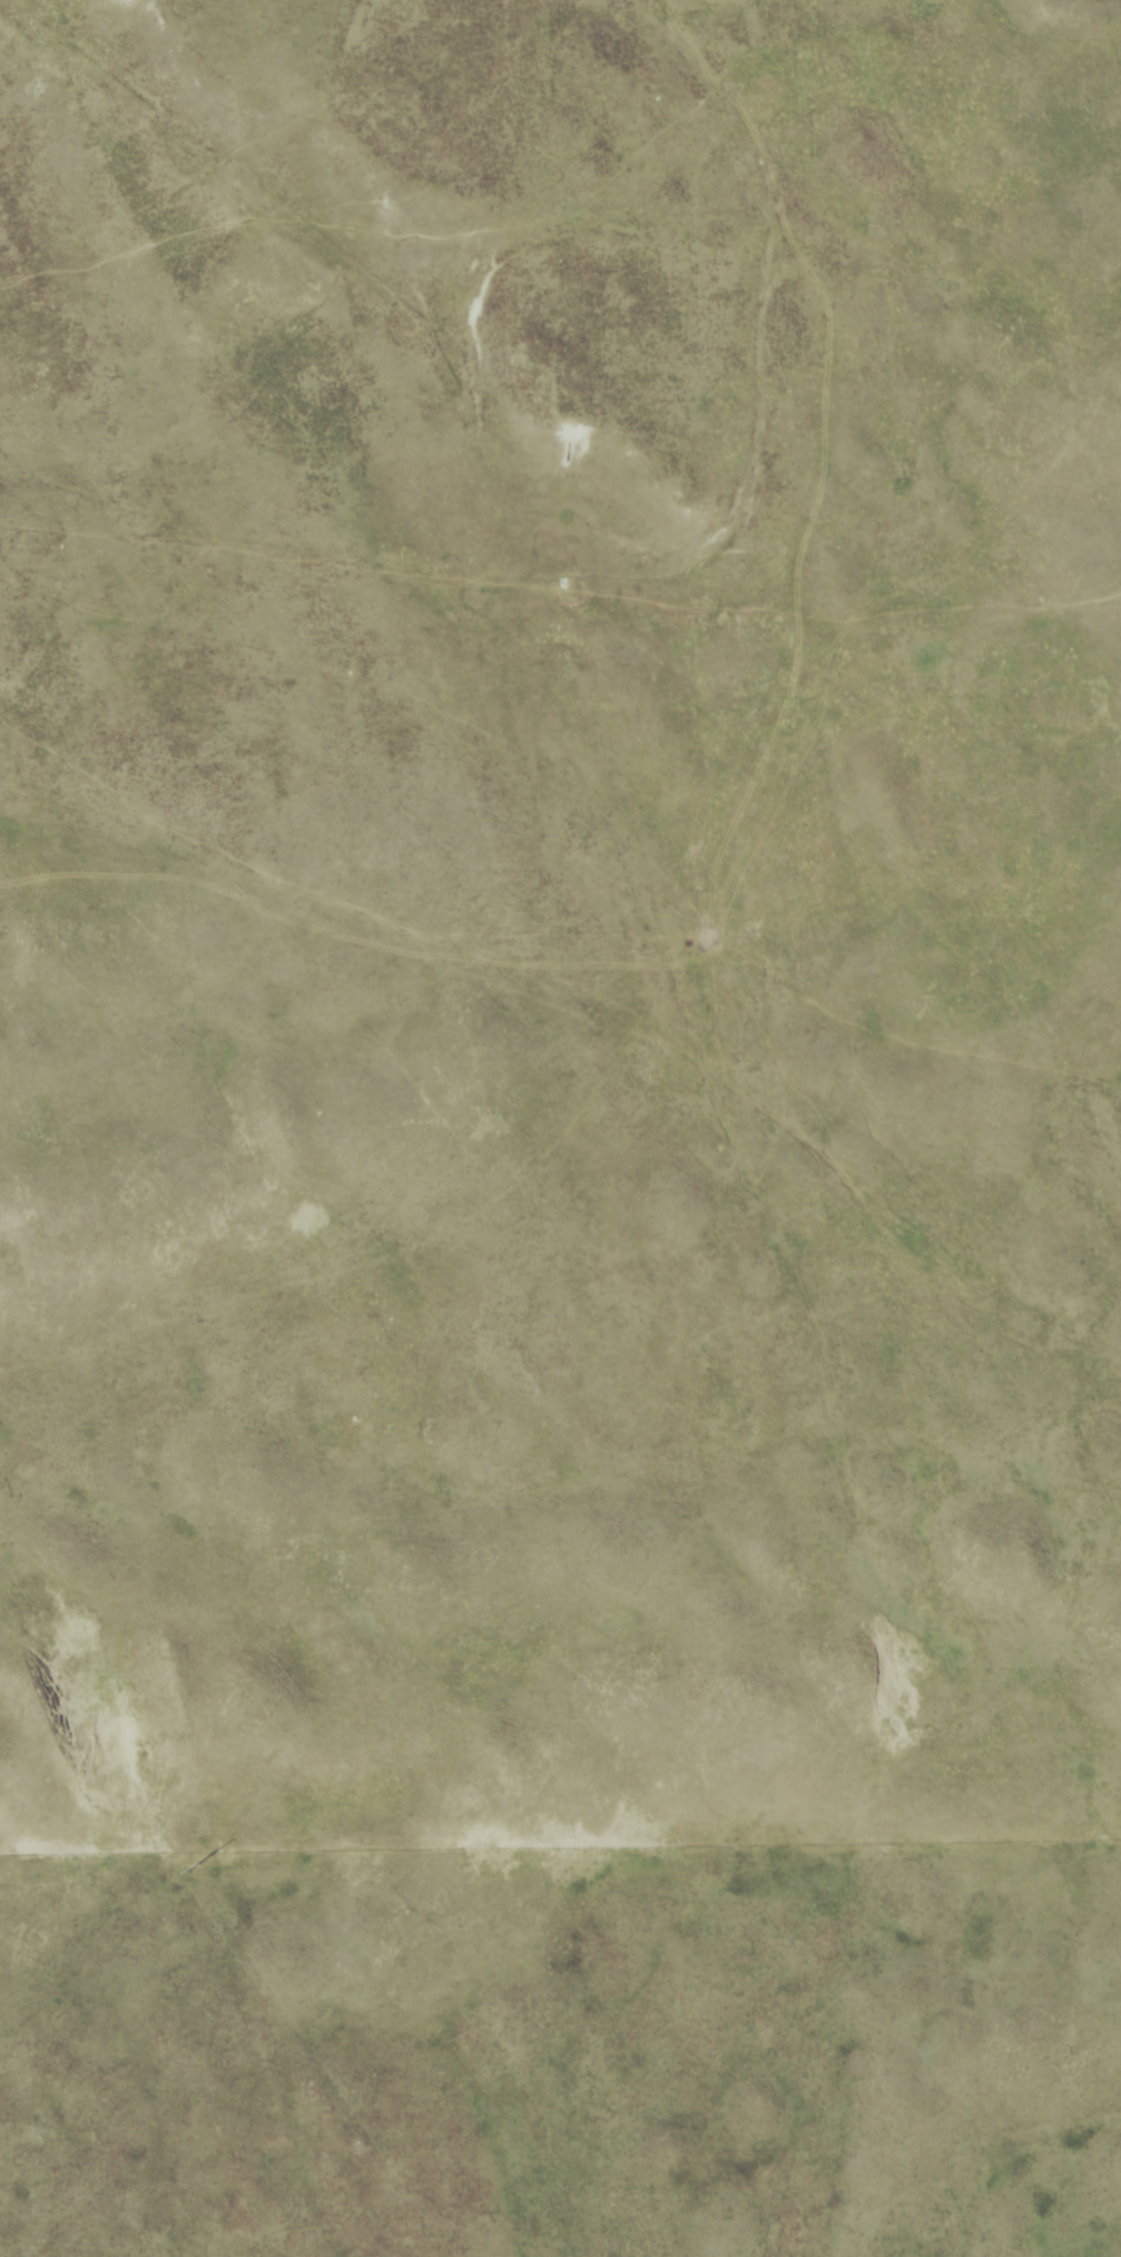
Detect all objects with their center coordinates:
power tower: (198, 1865)

